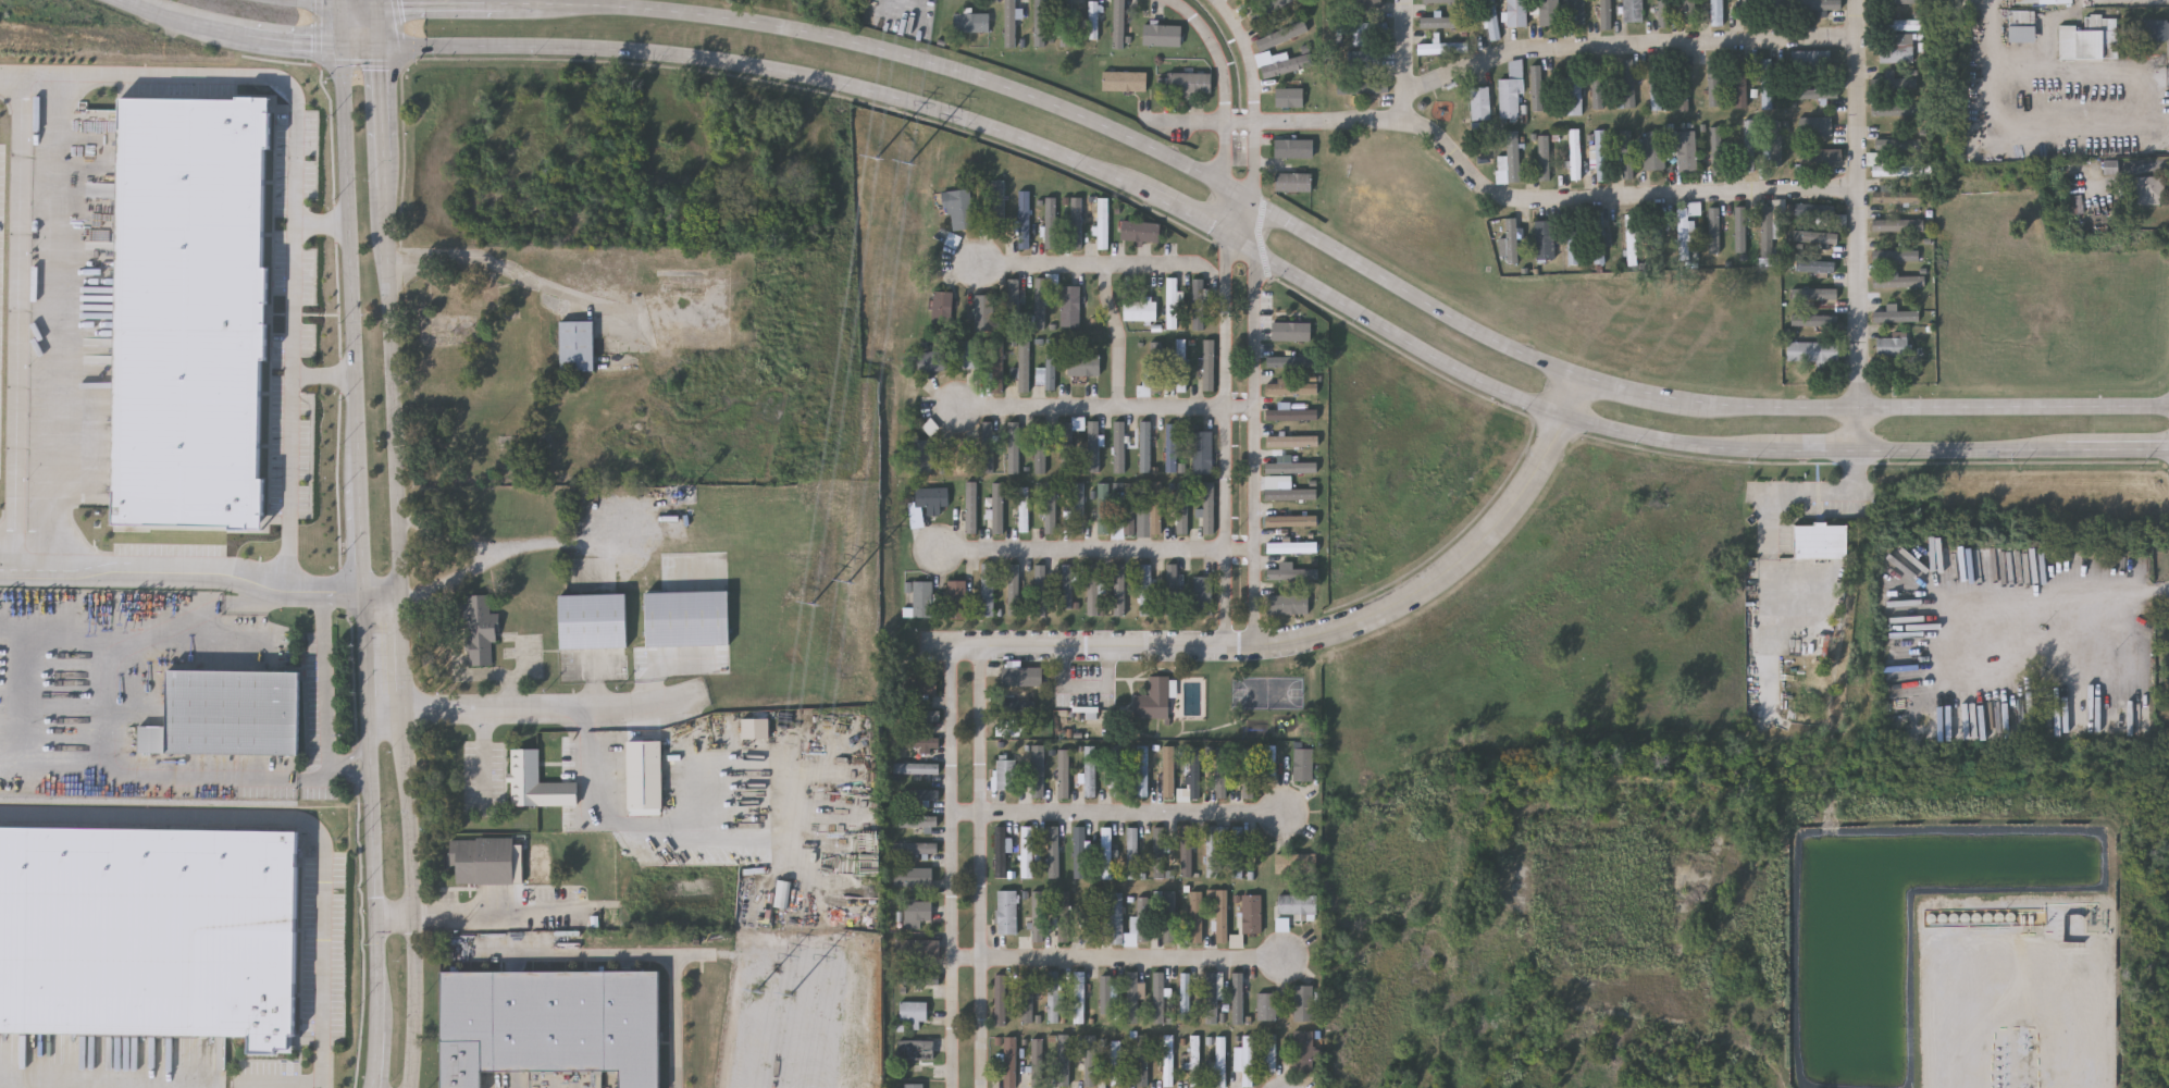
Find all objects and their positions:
building: (1250, 0)
building: (2043, 1)
road: (314, 2)
road: (340, 2)
road: (376, 2)
building: (1368, 4)
traffic signals: (342, 5)
road: (359, 5)
traffic signals: (377, 5)
road: (437, 5)
building: (1269, 10)
building: (1634, 12)
building: (1665, 12)
building: (1694, 12)
building: (1775, 12)
building: (1551, 13)
building: (1578, 13)
building: (1718, 13)
building: (1749, 13)
building: (1517, 14)
building: (1096, 20)
building: (1493, 21)
road: (186, 23)
building: (976, 23)
building: (1013, 23)
building: (1042, 23)
building: (1069, 23)
building: (1121, 24)
building: (1446, 25)
road: (340, 26)
building: (1899, 26)
building: (2025, 26)
road: (380, 27)
building: (1363, 29)
building: (2157, 29)
building: (1166, 35)
building: (2094, 39)
road: (298, 45)
traffic signals: (340, 48)
road: (361, 48)
traffic signals: (382, 49)
road: (1625, 49)
building: (1264, 50)
building: (1445, 50)
building: (1896, 55)
building: (1366, 62)
road: (1403, 62)
building: (1811, 64)
road: (241, 72)
road: (2045, 73)
building: (1715, 78)
building: (1127, 81)
building: (1193, 83)
building: (1740, 84)
building: (1658, 86)
building: (1768, 86)
building: (1683, 87)
building: (1378, 88)
building: (1292, 97)
road: (382, 98)
building: (1573, 98)
building: (1510, 101)
building: (1482, 106)
road: (1275, 124)
building: (1817, 127)
road: (1215, 128)
building: (1776, 145)
building: (1296, 148)
building: (1718, 148)
building: (1749, 148)
building: (294, 150)
building: (1654, 151)
building: (1685, 151)
building: (1576, 156)
building: (1602, 157)
building: (1822, 157)
power tower: (879, 161)
building: (1511, 162)
power tower: (913, 166)
building: (1897, 172)
building: (324, 178)
building: (1297, 182)
building: (2152, 189)
road: (1613, 200)
building: (1898, 201)
building: (1000, 206)
building: (960, 210)
building: (1815, 213)
building: (1025, 220)
building: (1052, 222)
building: (1078, 222)
building: (1103, 223)
road: (1857, 226)
building: (1897, 227)
building: (1686, 230)
building: (1658, 232)
building: (1140, 233)
building: (1767, 233)
building: (1815, 238)
building: (954, 240)
building: (1598, 240)
building: (1632, 240)
building: (1575, 242)
building: (1513, 243)
building: (1546, 243)
building: (957, 244)
road: (1328, 251)
road: (497, 264)
road: (1096, 264)
road: (350, 265)
building: (1817, 269)
road: (1275, 270)
building: (1898, 283)
building: (1014, 298)
building: (1173, 302)
road: (65, 305)
building: (458, 305)
building: (1042, 305)
building: (1200, 305)
building: (1071, 307)
building: (984, 309)
building: (943, 310)
building: (195, 312)
building: (1138, 312)
road: (1249, 319)
building: (1292, 331)
road: (1118, 336)
building: (575, 349)
building: (1892, 349)
building: (970, 354)
building: (1812, 354)
building: (933, 361)
building: (1293, 361)
road: (290, 362)
building: (1084, 364)
building: (1181, 364)
building: (1210, 364)
building: (999, 367)
building: (1025, 367)
building: (1050, 367)
building: (1154, 369)
building: (1293, 387)
road: (1105, 411)
building: (1293, 415)
building: (1292, 441)
building: (989, 446)
building: (1071, 446)
building: (1098, 446)
building: (1145, 446)
building: (1173, 446)
building: (1014, 447)
building: (1120, 447)
building: (1203, 453)
building: (1041, 455)
building: (922, 456)
building: (962, 457)
building: (480, 466)
building: (1292, 467)
road: (1225, 468)
road: (1805, 493)
building: (1292, 494)
building: (933, 497)
building: (999, 508)
building: (1078, 508)
building: (1103, 508)
building: (1156, 508)
building: (1209, 508)
building: (971, 509)
building: (1051, 509)
building: (1182, 509)
building: (1024, 510)
building: (1128, 511)
building: (1292, 520)
road: (111, 539)
road: (357, 542)
building: (1822, 544)
building: (1292, 547)
road: (289, 554)
road: (1098, 556)
road: (473, 568)
road: (1451, 570)
building: (1293, 573)
road: (146, 580)
power tower: (850, 586)
building: (1066, 586)
road: (2096, 588)
building: (988, 590)
building: (1014, 590)
building: (1092, 590)
building: (1119, 590)
building: (1145, 590)
building: (1173, 590)
building: (1040, 591)
building: (1203, 595)
road: (380, 598)
building: (924, 598)
building: (957, 599)
road: (340, 601)
building: (1288, 604)
power tower: (815, 607)
road: (399, 618)
building: (590, 625)
building: (482, 632)
road: (1104, 652)
road: (363, 656)
road: (659, 660)
road: (526, 667)
road: (321, 672)
road: (501, 675)
building: (1021, 676)
road: (595, 683)
building: (924, 685)
road: (1088, 689)
building: (1154, 698)
building: (1015, 706)
road: (533, 709)
building: (921, 714)
building: (226, 715)
building: (1013, 727)
building: (917, 741)
road: (345, 757)
road: (484, 759)
building: (1271, 762)
building: (1304, 764)
building: (915, 767)
building: (1116, 769)
building: (1038, 770)
building: (1092, 770)
building: (1142, 770)
building: (1169, 770)
building: (1064, 772)
building: (1195, 772)
building: (1249, 772)
road: (345, 774)
building: (1007, 774)
building: (1222, 774)
building: (642, 778)
road: (584, 782)
building: (541, 787)
building: (920, 793)
road: (1117, 817)
road: (290, 819)
building: (918, 821)
building: (917, 846)
building: (1215, 850)
building: (1001, 851)
building: (1027, 851)
building: (1080, 851)
building: (1054, 852)
building: (1105, 852)
building: (1132, 852)
building: (1158, 852)
building: (1187, 852)
building: (1237, 852)
building: (1296, 863)
building: (487, 864)
road: (953, 866)
road: (980, 867)
road: (375, 871)
building: (920, 880)
building: (782, 898)
building: (1298, 904)
building: (1007, 912)
building: (916, 913)
building: (1252, 914)
building: (1039, 916)
building: (1065, 916)
building: (1091, 916)
building: (1170, 916)
building: (1197, 916)
building: (1222, 916)
road: (396, 918)
building: (1116, 918)
building: (1144, 918)
building: (146, 932)
building: (922, 949)
road: (599, 954)
road: (1116, 962)
building: (919, 977)
building: (1105, 993)
power tower: (757, 996)
building: (1028, 997)
building: (1054, 997)
building: (1079, 997)
building: (1132, 997)
building: (1158, 997)
building: (1187, 997)
building: (1212, 997)
building: (1237, 998)
building: (1001, 999)
power tower: (791, 1001)
building: (1303, 1002)
building: (1266, 1006)
building: (913, 1011)
road: (681, 1025)
building: (556, 1027)
building: (913, 1046)
building: (1304, 1051)
building: (1269, 1052)
building: (1064, 1059)
building: (1091, 1059)
building: (1143, 1059)
building: (1168, 1060)
building: (1195, 1060)
road: (376, 1061)
building: (1011, 1061)
building: (1219, 1061)
building: (1039, 1062)
building: (1115, 1062)
building: (1247, 1062)
road: (1935, 1076)
road: (277, 1080)
building: (914, 1085)

